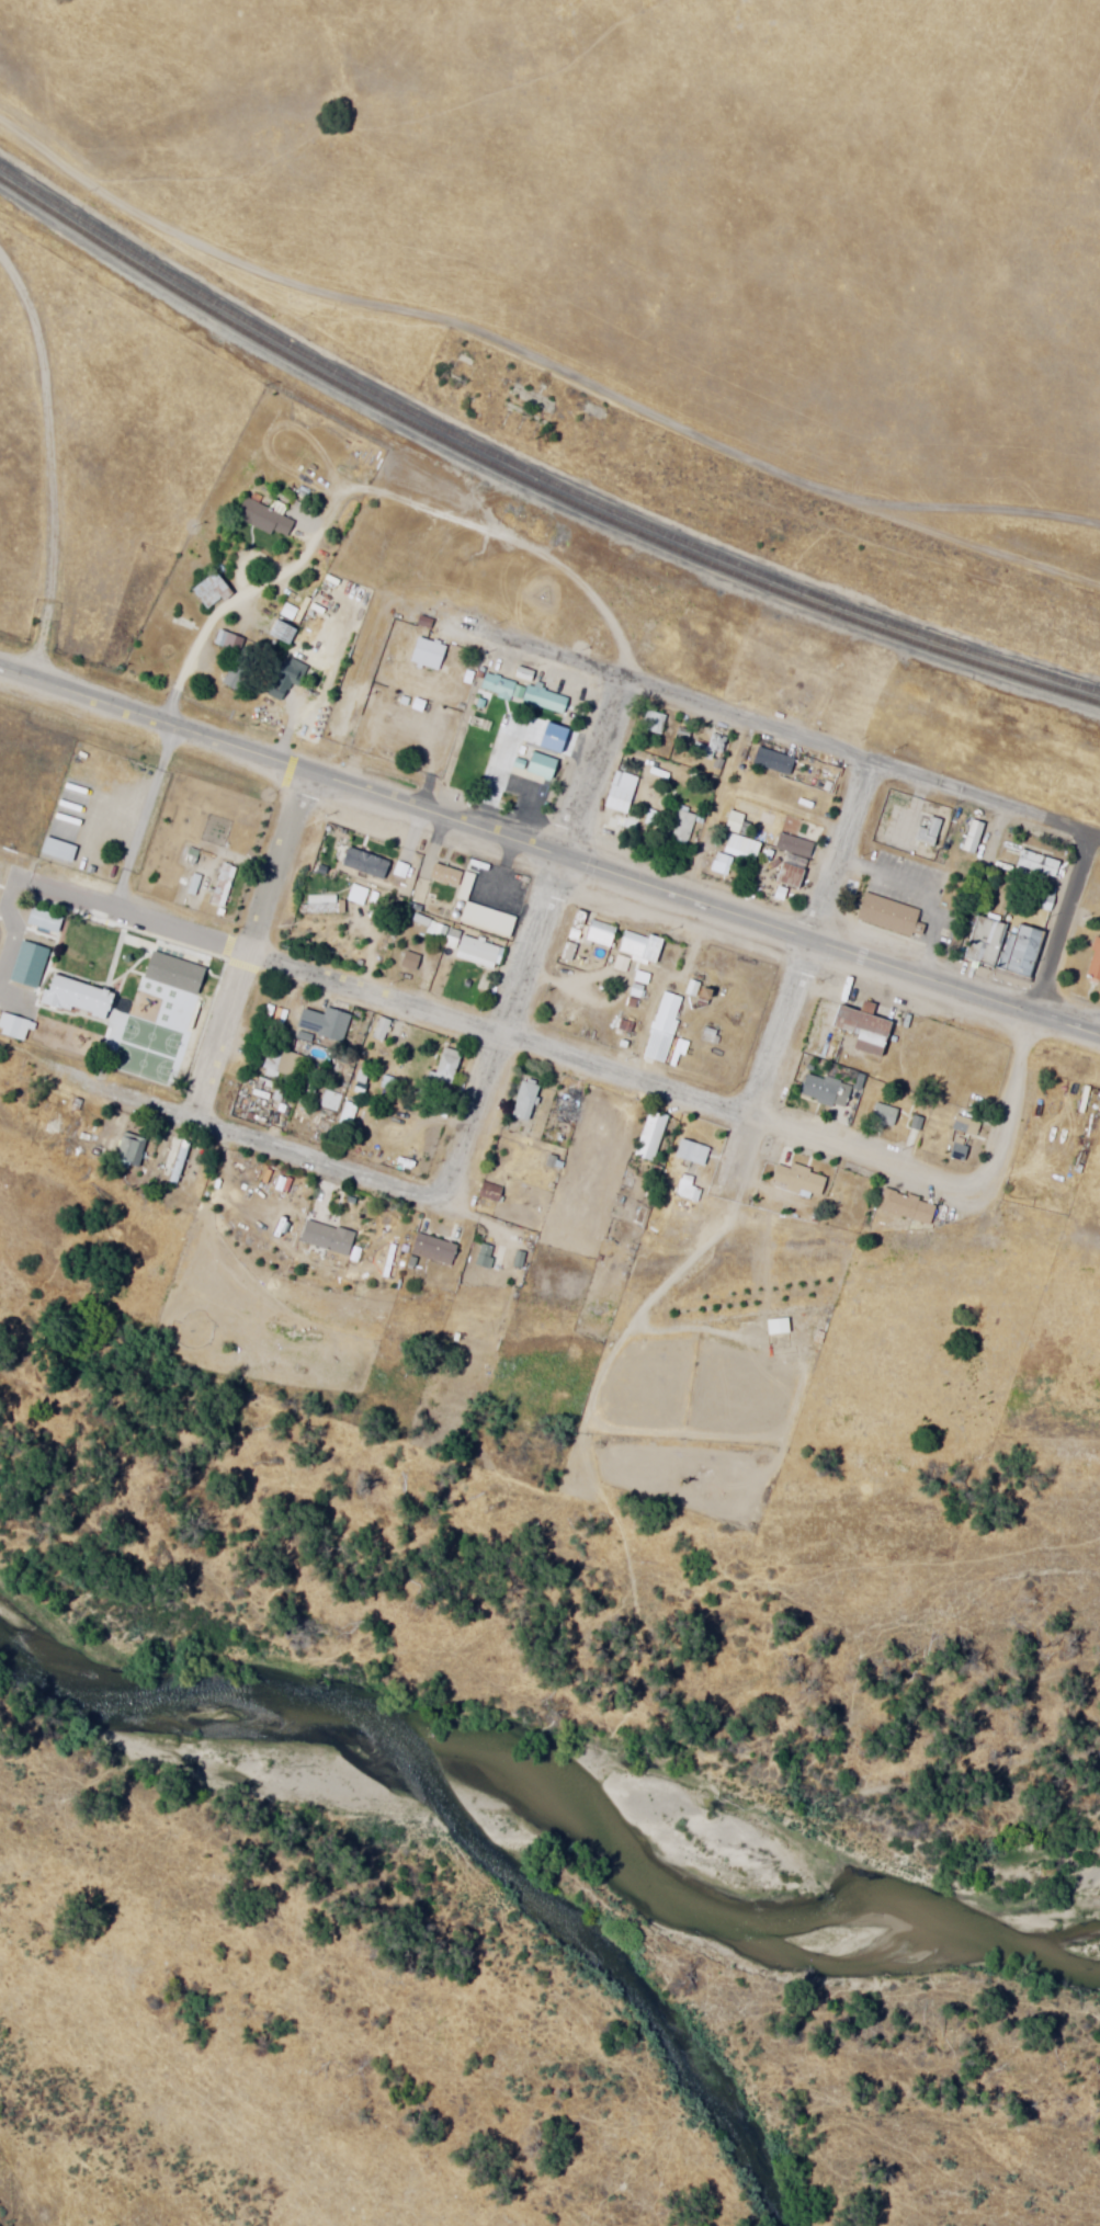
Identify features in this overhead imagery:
road: (537, 362)
road: (52, 465)
railway: (530, 470)
railway: (530, 482)
road: (366, 497)
building: (263, 520)
building: (208, 592)
building: (291, 614)
building: (280, 633)
building: (426, 655)
building: (495, 688)
building: (543, 701)
building: (654, 724)
building: (393, 734)
road: (775, 736)
building: (714, 746)
building: (772, 762)
building: (538, 766)
building: (616, 797)
building: (734, 821)
building: (682, 827)
building: (216, 831)
building: (928, 832)
building: (972, 838)
building: (742, 847)
building: (794, 847)
road: (548, 861)
building: (361, 863)
building: (1037, 864)
building: (790, 876)
building: (192, 885)
building: (220, 886)
building: (1039, 901)
building: (320, 905)
building: (886, 916)
building: (597, 934)
building: (986, 938)
building: (455, 943)
road: (798, 943)
road: (525, 944)
building: (637, 946)
road: (246, 950)
building: (1023, 952)
building: (407, 961)
building: (1092, 963)
building: (174, 990)
building: (72, 998)
building: (321, 1024)
road: (1021, 1026)
building: (660, 1027)
building: (379, 1030)
building: (861, 1031)
road: (1095, 1036)
road: (492, 1042)
building: (315, 1054)
building: (279, 1065)
building: (443, 1067)
building: (821, 1091)
building: (329, 1101)
building: (522, 1101)
building: (1080, 1101)
building: (566, 1106)
building: (882, 1115)
building: (964, 1126)
building: (911, 1132)
road: (231, 1136)
building: (647, 1136)
building: (123, 1148)
building: (688, 1152)
building: (955, 1152)
building: (173, 1162)
building: (795, 1180)
building: (487, 1192)
building: (162, 1203)
building: (905, 1207)
building: (322, 1238)
building: (431, 1249)
building: (776, 1327)
river: (549, 1796)

